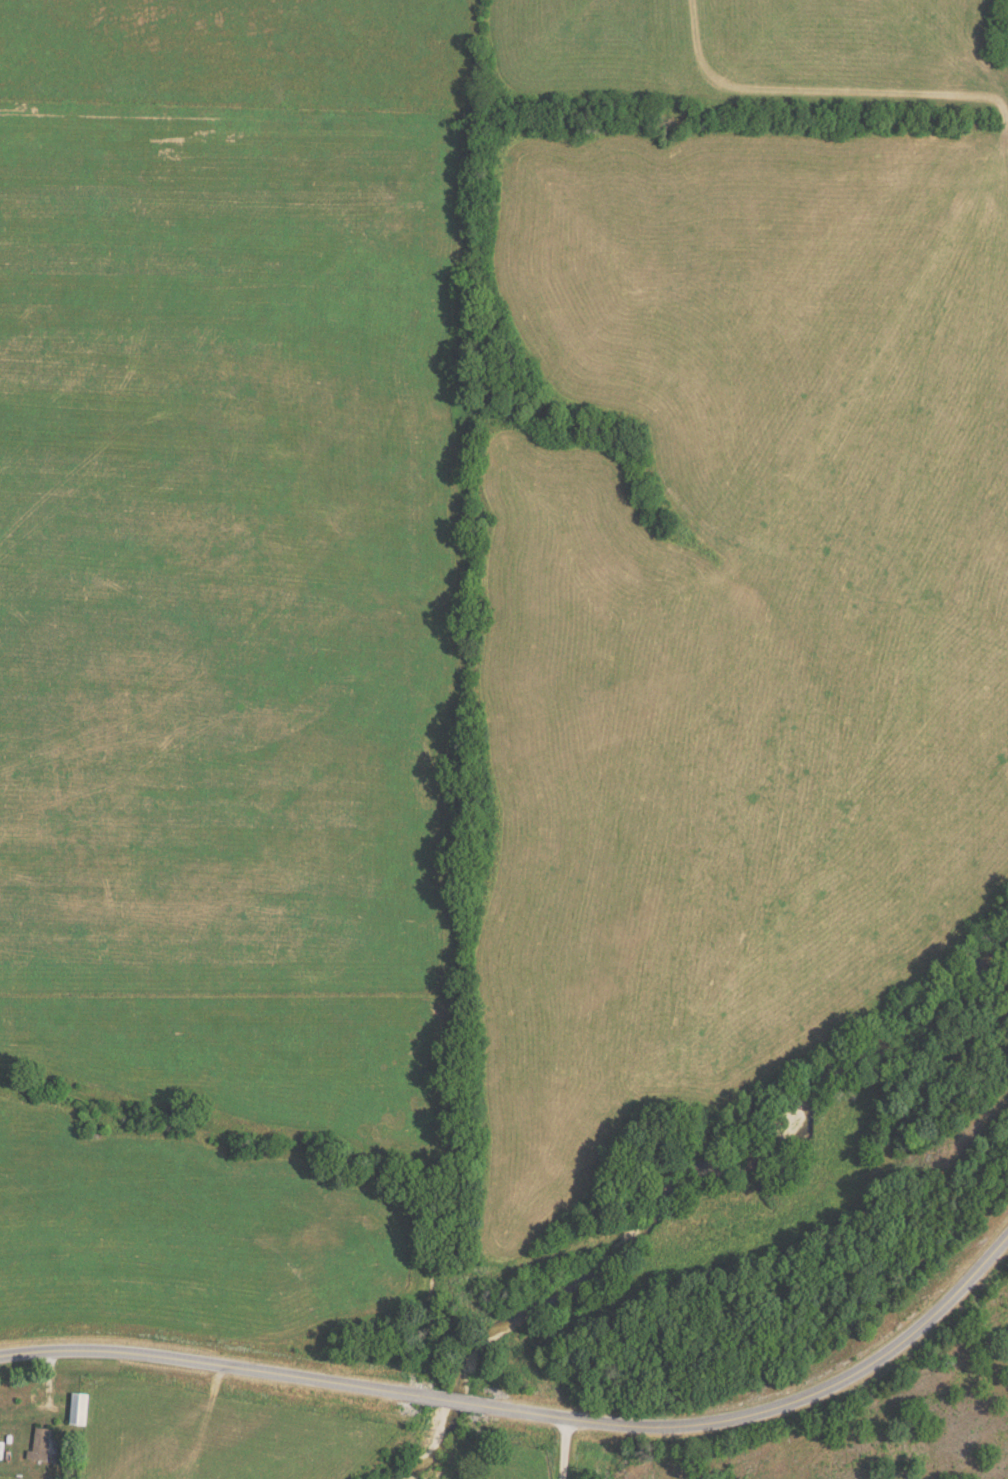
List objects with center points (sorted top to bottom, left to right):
road: (799, 105)
building: (82, 1411)
road: (533, 1414)
building: (43, 1446)
road: (561, 1449)

